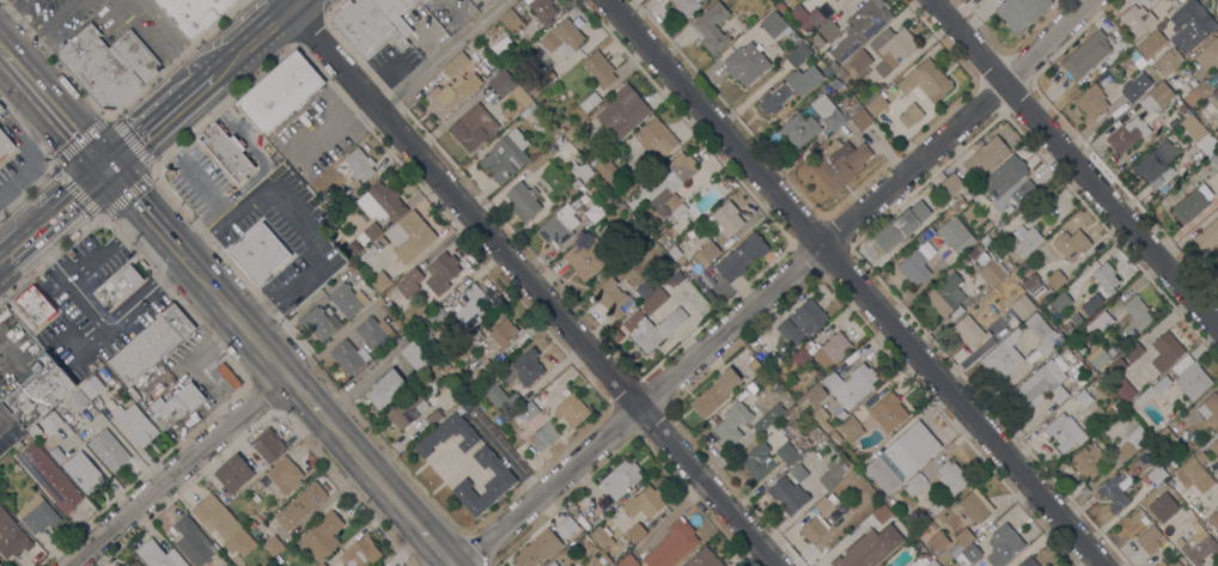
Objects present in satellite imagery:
building: (233, 0)
building: (833, 0)
building: (836, 0)
building: (422, 1)
building: (1176, 1)
road: (286, 2)
road: (292, 2)
building: (781, 6)
building: (686, 7)
building: (542, 8)
road: (11, 11)
building: (1021, 12)
building: (193, 13)
building: (394, 13)
building: (1138, 13)
building: (806, 17)
building: (511, 22)
building: (1189, 24)
road: (42, 25)
building: (365, 26)
building: (778, 26)
building: (1123, 26)
road: (43, 28)
building: (711, 28)
building: (860, 28)
building: (828, 31)
road: (178, 36)
building: (562, 37)
building: (1120, 38)
road: (250, 39)
building: (816, 39)
building: (1152, 44)
road: (24, 45)
road: (152, 45)
road: (2, 50)
road: (441, 54)
building: (1086, 54)
building: (135, 55)
building: (1208, 55)
building: (794, 57)
building: (882, 57)
building: (501, 59)
building: (1168, 61)
building: (745, 63)
building: (455, 65)
building: (598, 68)
building: (99, 69)
building: (516, 75)
building: (926, 80)
building: (541, 83)
building: (507, 87)
building: (788, 89)
building: (1135, 89)
building: (1202, 90)
building: (280, 93)
building: (1216, 95)
building: (1157, 96)
building: (446, 97)
building: (589, 102)
building: (1091, 102)
building: (877, 104)
building: (854, 105)
building: (1181, 108)
building: (1, 109)
building: (529, 109)
road: (54, 111)
building: (622, 111)
building: (828, 111)
building: (911, 115)
building: (860, 120)
road: (156, 121)
road: (331, 121)
building: (473, 127)
building: (799, 129)
building: (572, 133)
railway: (152, 134)
building: (1127, 134)
building: (1199, 135)
building: (656, 138)
building: (559, 141)
building: (5, 144)
building: (226, 150)
building: (505, 156)
building: (985, 157)
building: (1214, 157)
building: (541, 159)
building: (1155, 160)
building: (840, 162)
road: (1073, 163)
building: (359, 164)
traffic signals: (103, 169)
building: (607, 169)
building: (581, 170)
building: (1001, 176)
building: (575, 183)
building: (949, 185)
building: (674, 187)
building: (1019, 195)
building: (637, 196)
building: (817, 196)
building: (583, 199)
building: (524, 200)
building: (613, 201)
building: (380, 202)
building: (700, 202)
building: (574, 203)
building: (956, 203)
building: (1192, 203)
building: (593, 212)
road: (53, 213)
road: (146, 218)
building: (724, 220)
building: (559, 226)
building: (901, 226)
building: (331, 229)
building: (369, 233)
building: (955, 235)
building: (410, 236)
building: (1207, 236)
building: (660, 239)
building: (1025, 239)
building: (380, 243)
building: (1071, 244)
building: (252, 245)
road: (105, 248)
building: (352, 249)
building: (974, 249)
building: (674, 251)
building: (706, 252)
building: (741, 256)
road: (1, 257)
building: (584, 258)
building: (981, 258)
building: (963, 260)
building: (914, 267)
building: (440, 272)
building: (991, 273)
building: (1015, 275)
building: (413, 276)
building: (1055, 279)
building: (1106, 279)
building: (706, 280)
building: (380, 281)
building: (699, 282)
road: (781, 282)
road: (852, 282)
building: (121, 284)
building: (1033, 284)
road: (534, 285)
building: (644, 290)
building: (610, 296)
building: (946, 297)
building: (349, 298)
building: (1059, 302)
building: (644, 303)
building: (1091, 303)
building: (35, 305)
building: (471, 305)
building: (1022, 306)
building: (436, 315)
road: (123, 316)
building: (1135, 316)
building: (1101, 321)
building: (802, 322)
building: (1067, 322)
road: (238, 323)
building: (321, 323)
building: (652, 327)
building: (969, 330)
building: (503, 331)
building: (374, 333)
building: (1043, 334)
building: (150, 345)
road: (91, 346)
building: (832, 349)
building: (1112, 349)
building: (1132, 351)
building: (1165, 351)
building: (349, 355)
building: (1003, 355)
building: (415, 357)
building: (1033, 357)
building: (1097, 357)
building: (500, 358)
building: (800, 358)
building: (1116, 365)
building: (754, 366)
building: (446, 367)
building: (522, 369)
building: (482, 370)
building: (456, 373)
building: (1090, 373)
building: (818, 375)
building: (1190, 377)
building: (225, 378)
building: (851, 384)
building: (1041, 385)
building: (91, 387)
building: (1122, 389)
building: (383, 390)
building: (456, 390)
building: (1152, 390)
building: (38, 392)
building: (714, 392)
road: (302, 395)
building: (811, 396)
building: (503, 398)
building: (1083, 398)
building: (75, 401)
building: (156, 404)
building: (178, 406)
building: (1210, 406)
building: (531, 408)
building: (407, 409)
building: (572, 409)
building: (888, 412)
building: (841, 414)
building: (1170, 415)
building: (433, 416)
building: (767, 418)
building: (821, 418)
building: (50, 422)
building: (134, 424)
building: (732, 424)
building: (814, 430)
building: (849, 430)
building: (34, 431)
building: (450, 432)
building: (1064, 432)
building: (11, 436)
building: (543, 437)
building: (835, 438)
building: (1167, 439)
building: (1131, 442)
building: (814, 443)
building: (1214, 446)
building: (912, 449)
building: (109, 450)
building: (786, 454)
building: (57, 455)
building: (1200, 457)
building: (1088, 461)
building: (759, 462)
building: (233, 463)
building: (848, 467)
road: (367, 470)
building: (84, 471)
road: (179, 473)
building: (798, 473)
building: (882, 474)
building: (1157, 474)
building: (285, 475)
building: (830, 475)
building: (951, 476)
building: (1193, 476)
building: (50, 477)
building: (617, 477)
building: (1217, 480)
building: (500, 482)
building: (914, 485)
building: (1114, 493)
building: (788, 495)
building: (1161, 499)
building: (605, 503)
building: (644, 503)
building: (826, 504)
building: (300, 505)
building: (975, 505)
building: (936, 507)
building: (881, 512)
building: (37, 513)
building: (261, 517)
building: (585, 518)
building: (1214, 518)
building: (1174, 519)
building: (223, 524)
building: (251, 524)
building: (566, 527)
building: (814, 528)
building: (1187, 529)
building: (633, 532)
building: (11, 536)
building: (322, 536)
building: (599, 536)
building: (1171, 536)
building: (964, 537)
building: (1150, 540)
building: (193, 541)
building: (938, 541)
building: (672, 544)
building: (273, 546)
building: (872, 546)
building: (1003, 546)
building: (1198, 547)
road: (433, 548)
building: (537, 548)
building: (955, 550)
building: (361, 553)
building: (158, 555)
building: (969, 555)
building: (924, 556)
building: (702, 559)
building: (602, 560)
building: (627, 560)
building: (1028, 562)
building: (135, 564)
building: (553, 564)
building: (931, 564)
building: (1159, 564)
building: (1174, 564)
building: (0, 565)
building: (322, 565)
building: (377, 565)
building: (611, 565)
building: (949, 565)

